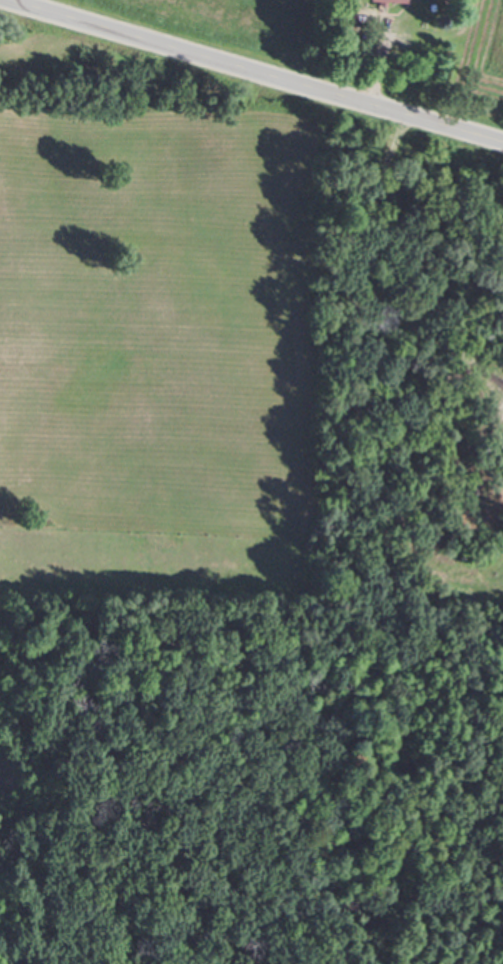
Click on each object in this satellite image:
building: (371, 2)
road: (251, 76)

